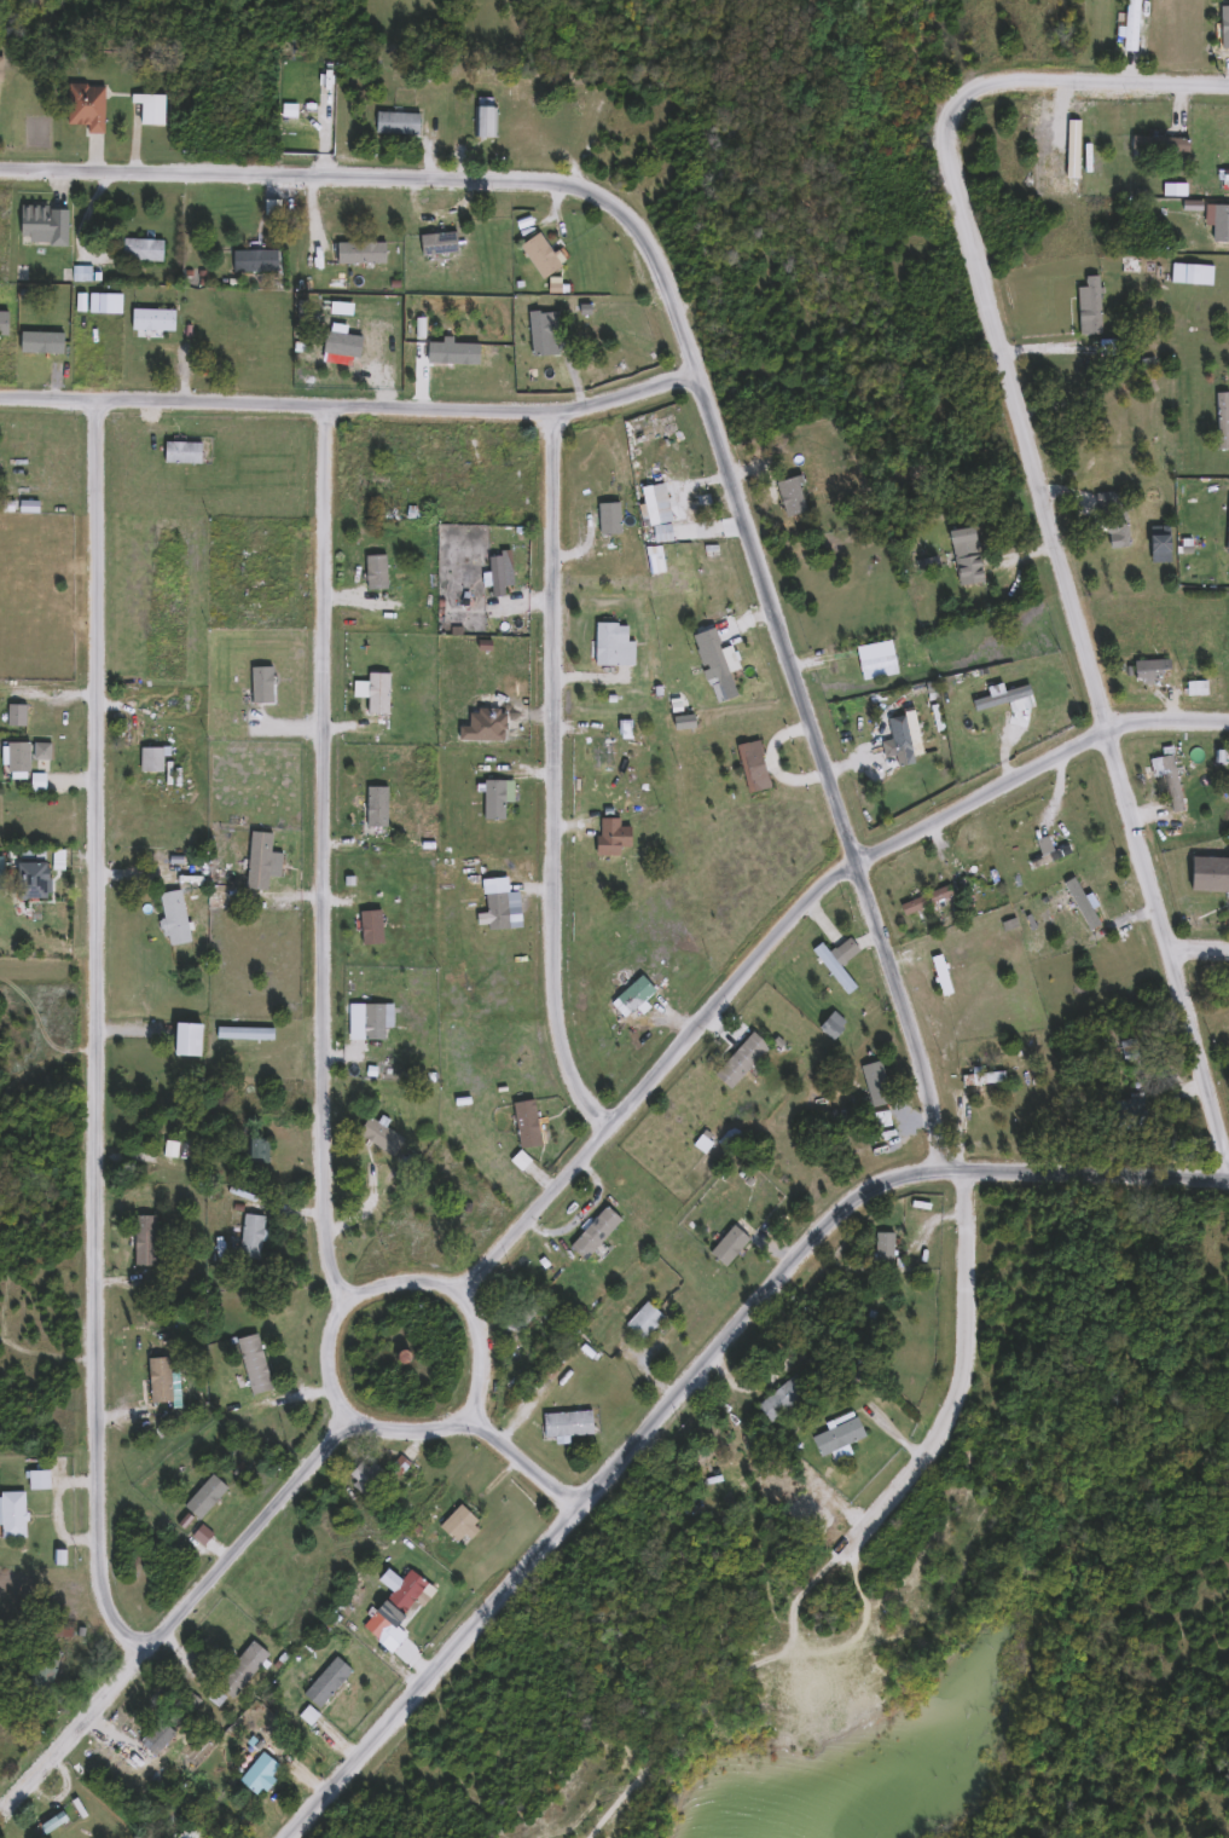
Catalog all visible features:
building: (1127, 25)
building: (1225, 31)
building: (0, 67)
road: (1095, 83)
building: (83, 106)
building: (482, 117)
building: (395, 123)
building: (1156, 143)
building: (1068, 163)
road: (404, 179)
building: (1218, 218)
building: (40, 225)
building: (140, 249)
building: (361, 253)
building: (535, 255)
building: (253, 261)
building: (1086, 306)
building: (348, 346)
building: (451, 354)
road: (353, 405)
building: (1221, 420)
building: (179, 452)
building: (442, 476)
building: (1119, 516)
building: (963, 555)
road: (1083, 624)
building: (609, 643)
building: (1147, 669)
building: (719, 672)
building: (259, 686)
building: (1194, 688)
building: (993, 709)
building: (16, 716)
building: (150, 758)
building: (15, 761)
road: (558, 779)
building: (1169, 782)
building: (492, 799)
building: (373, 807)
road: (327, 855)
building: (24, 880)
building: (922, 900)
road: (877, 914)
building: (170, 917)
road: (793, 926)
building: (369, 927)
road: (1200, 949)
building: (844, 950)
building: (831, 969)
building: (829, 1024)
road: (99, 1035)
building: (186, 1040)
building: (737, 1060)
building: (980, 1077)
building: (873, 1083)
building: (1127, 1106)
building: (526, 1126)
building: (377, 1135)
building: (255, 1150)
road: (1098, 1181)
building: (249, 1236)
building: (143, 1242)
building: (725, 1245)
building: (880, 1248)
road: (346, 1296)
road: (754, 1310)
building: (516, 1316)
building: (642, 1320)
building: (250, 1364)
building: (547, 1372)
building: (776, 1401)
building: (835, 1437)
road: (518, 1457)
building: (725, 1468)
building: (394, 1469)
building: (35, 1481)
building: (203, 1501)
building: (11, 1515)
building: (456, 1525)
building: (404, 1594)
road: (185, 1612)
building: (373, 1626)
road: (760, 1652)
building: (237, 1670)
building: (40, 1672)
road: (437, 1672)
building: (324, 1682)
building: (155, 1738)
building: (255, 1773)
building: (182, 1834)

